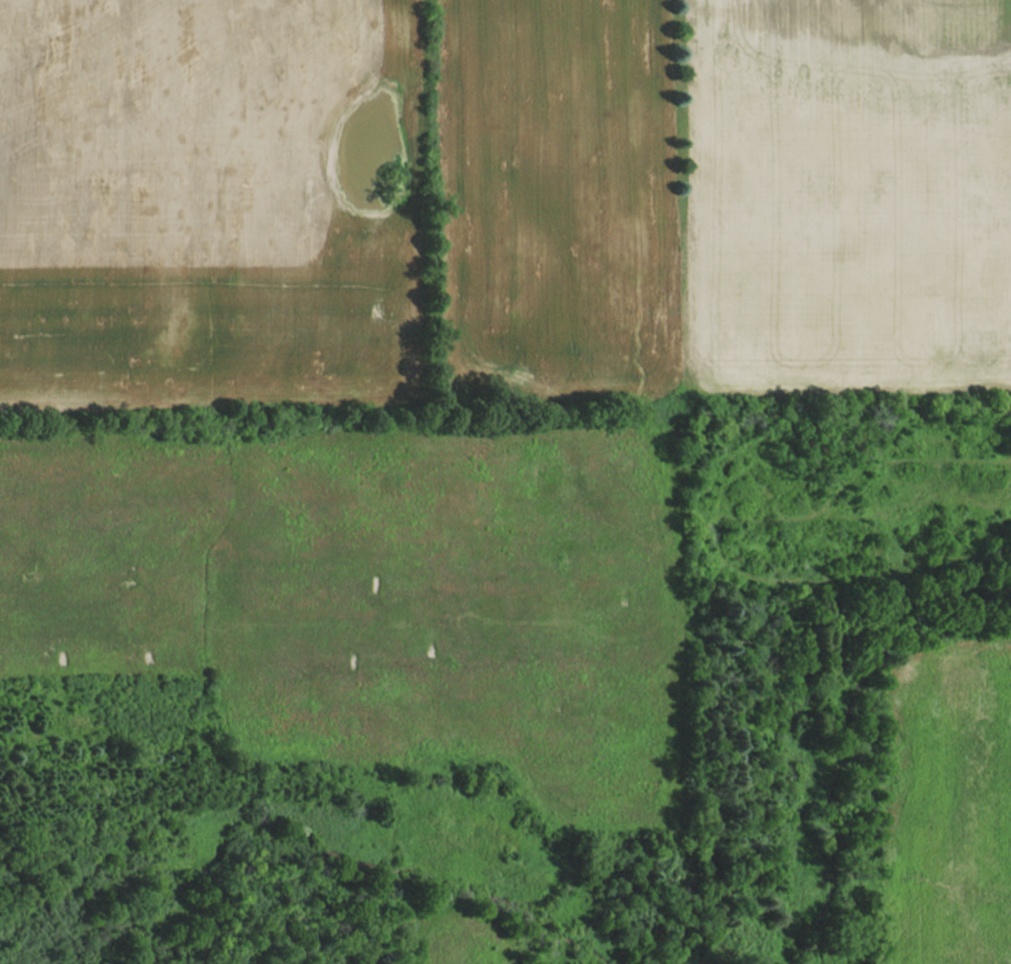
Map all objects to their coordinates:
crop: (839, 185)
crop: (556, 195)
crop: (207, 201)

